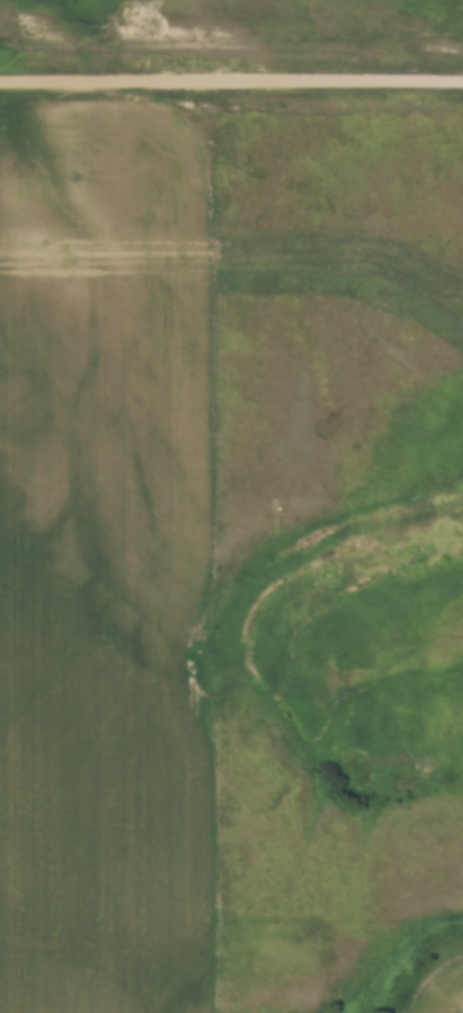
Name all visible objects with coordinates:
road: (231, 78)

